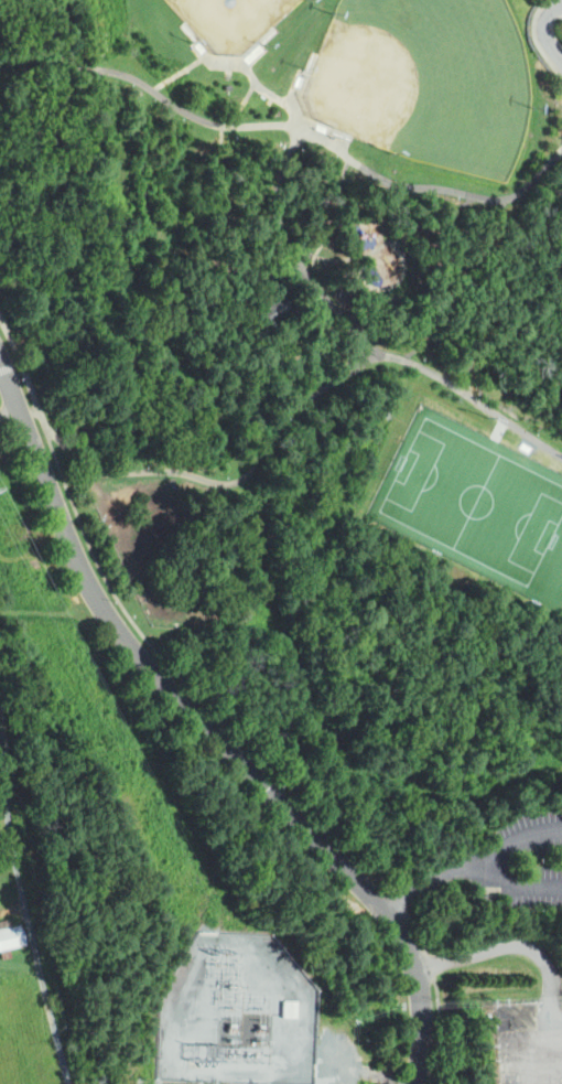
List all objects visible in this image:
road: (559, 4)
street lamp: (333, 12)
street lamp: (561, 19)
park: (231, 21)
road: (543, 29)
street lamp: (193, 41)
road: (536, 41)
street lamp: (267, 45)
road: (196, 62)
road: (228, 62)
street lamp: (304, 67)
road: (72, 68)
road: (24, 69)
road: (250, 72)
park: (426, 79)
street lamp: (131, 85)
road: (160, 85)
building: (228, 88)
road: (251, 89)
road: (158, 93)
road: (285, 103)
street lamp: (536, 106)
street lamp: (181, 119)
road: (234, 120)
road: (306, 133)
street lamp: (333, 136)
street lamp: (236, 138)
road: (561, 150)
street lamp: (391, 152)
road: (223, 153)
road: (555, 154)
street lamp: (333, 155)
road: (472, 194)
road: (547, 195)
street lamp: (457, 196)
road: (431, 219)
street lamp: (291, 230)
road: (229, 234)
road: (323, 242)
road: (354, 257)
road: (391, 288)
road: (482, 298)
road: (293, 299)
building: (277, 310)
road: (311, 332)
road: (358, 336)
road: (476, 350)
road: (316, 353)
street lamp: (422, 355)
park: (283, 358)
street lamp: (20, 377)
street lamp: (480, 387)
road: (325, 390)
parking lot: (14, 401)
road: (30, 412)
road: (10, 414)
street lamp: (491, 416)
street lamp: (538, 430)
road: (269, 447)
road: (94, 463)
street lamp: (63, 485)
park: (475, 501)
street lamp: (419, 544)
street lamp: (115, 600)
street lamp: (519, 601)
street lamp: (193, 695)
road: (209, 730)
road: (258, 752)
street lamp: (282, 784)
road: (468, 860)
street lamp: (371, 877)
road: (516, 882)
road: (24, 899)
road: (12, 903)
building: (11, 935)
road: (500, 946)
building: (4, 954)
road: (25, 987)
street lamp: (433, 998)
building: (290, 1009)
power substation: (238, 1012)
road: (359, 1064)
street lamp: (488, 1083)

